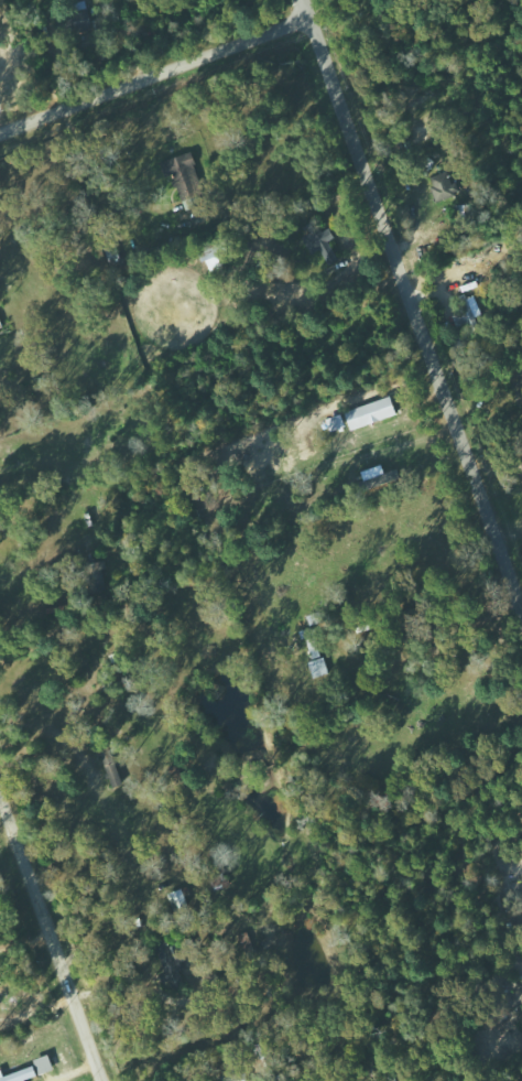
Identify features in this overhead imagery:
building: (85, 19)
road: (150, 77)
building: (185, 175)
building: (445, 186)
building: (322, 240)
road: (409, 310)
building: (374, 412)
building: (338, 422)
building: (316, 648)
building: (180, 900)
road: (48, 943)
building: (172, 964)
building: (46, 1064)
building: (20, 1074)
building: (242, 1079)

